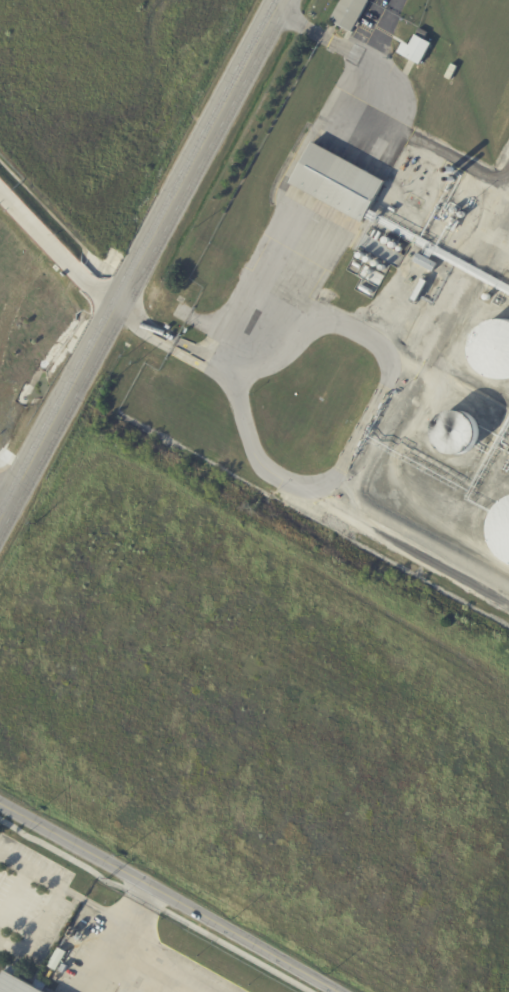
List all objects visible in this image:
building: (352, 13)
road: (319, 36)
building: (419, 48)
building: (429, 63)
building: (341, 182)
road: (286, 247)
road: (57, 249)
road: (138, 259)
building: (428, 263)
building: (422, 290)
road: (357, 442)
road: (4, 498)
road: (13, 892)
road: (169, 897)
road: (52, 899)
road: (156, 905)
road: (117, 955)
building: (20, 982)

